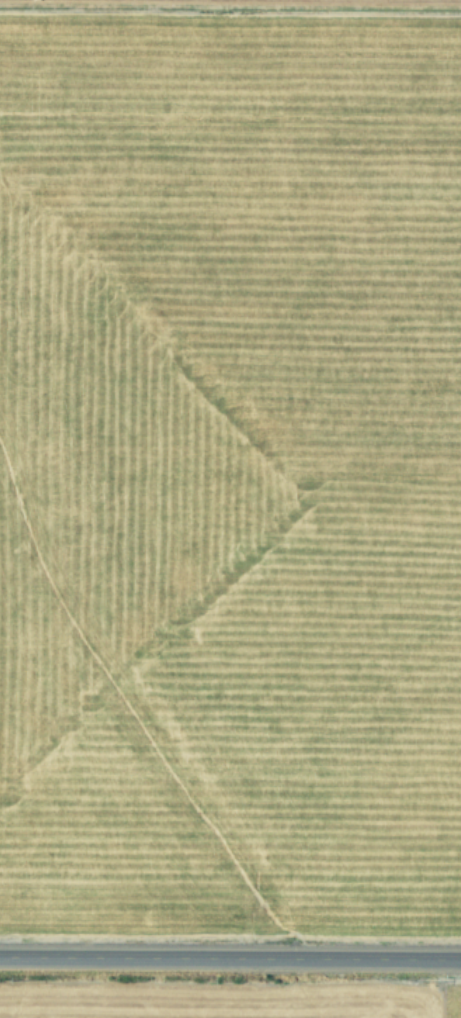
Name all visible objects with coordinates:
road: (230, 953)

